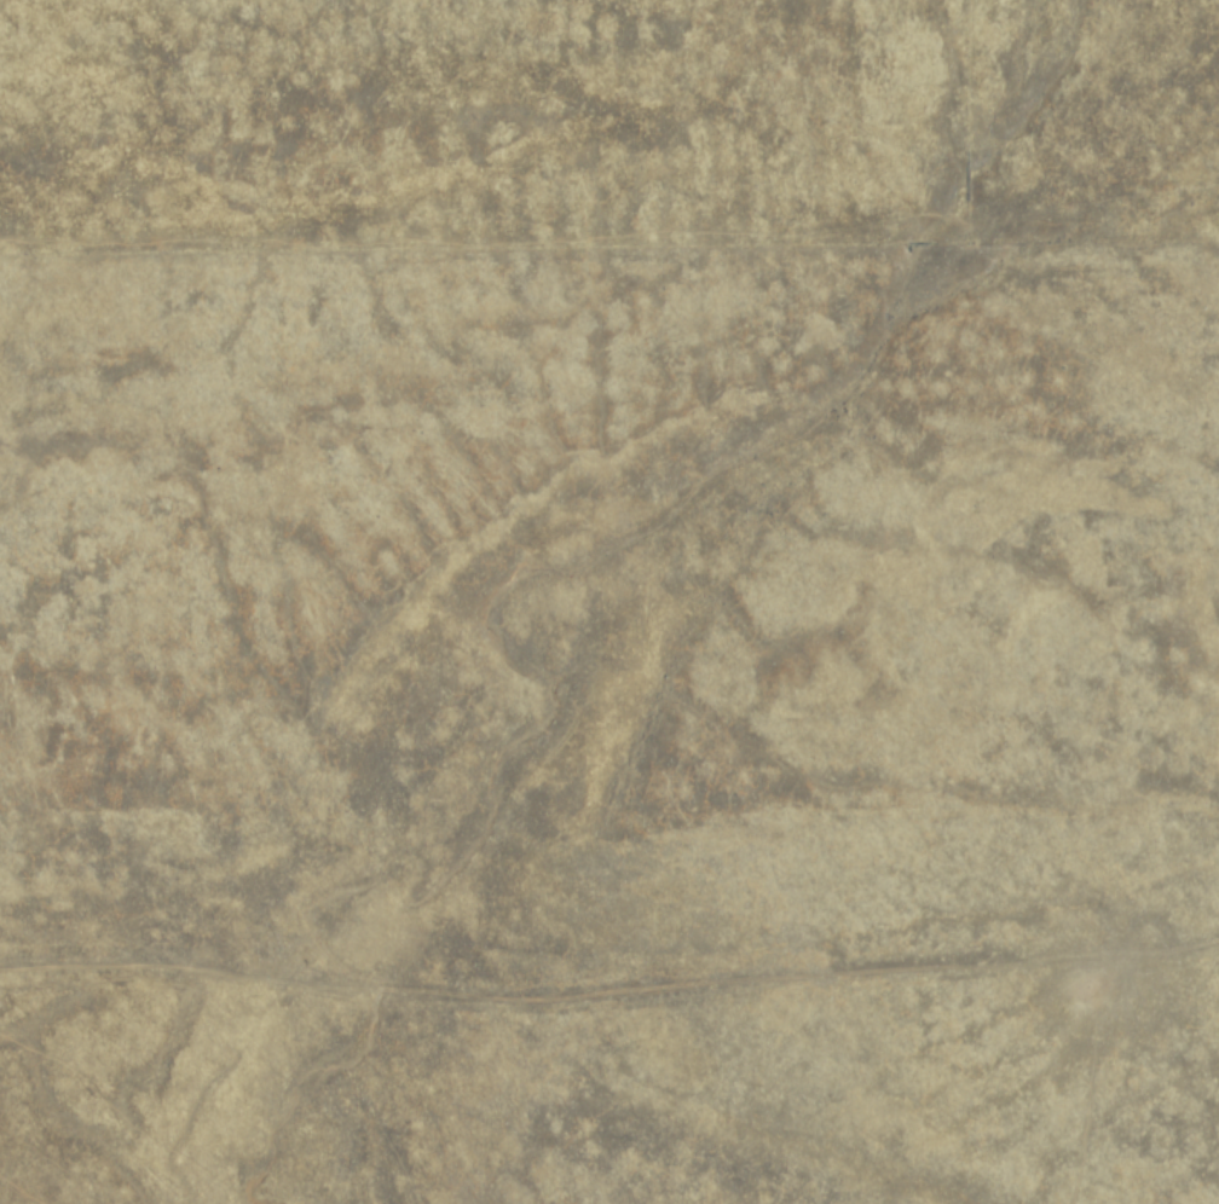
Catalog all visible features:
road: (609, 988)

